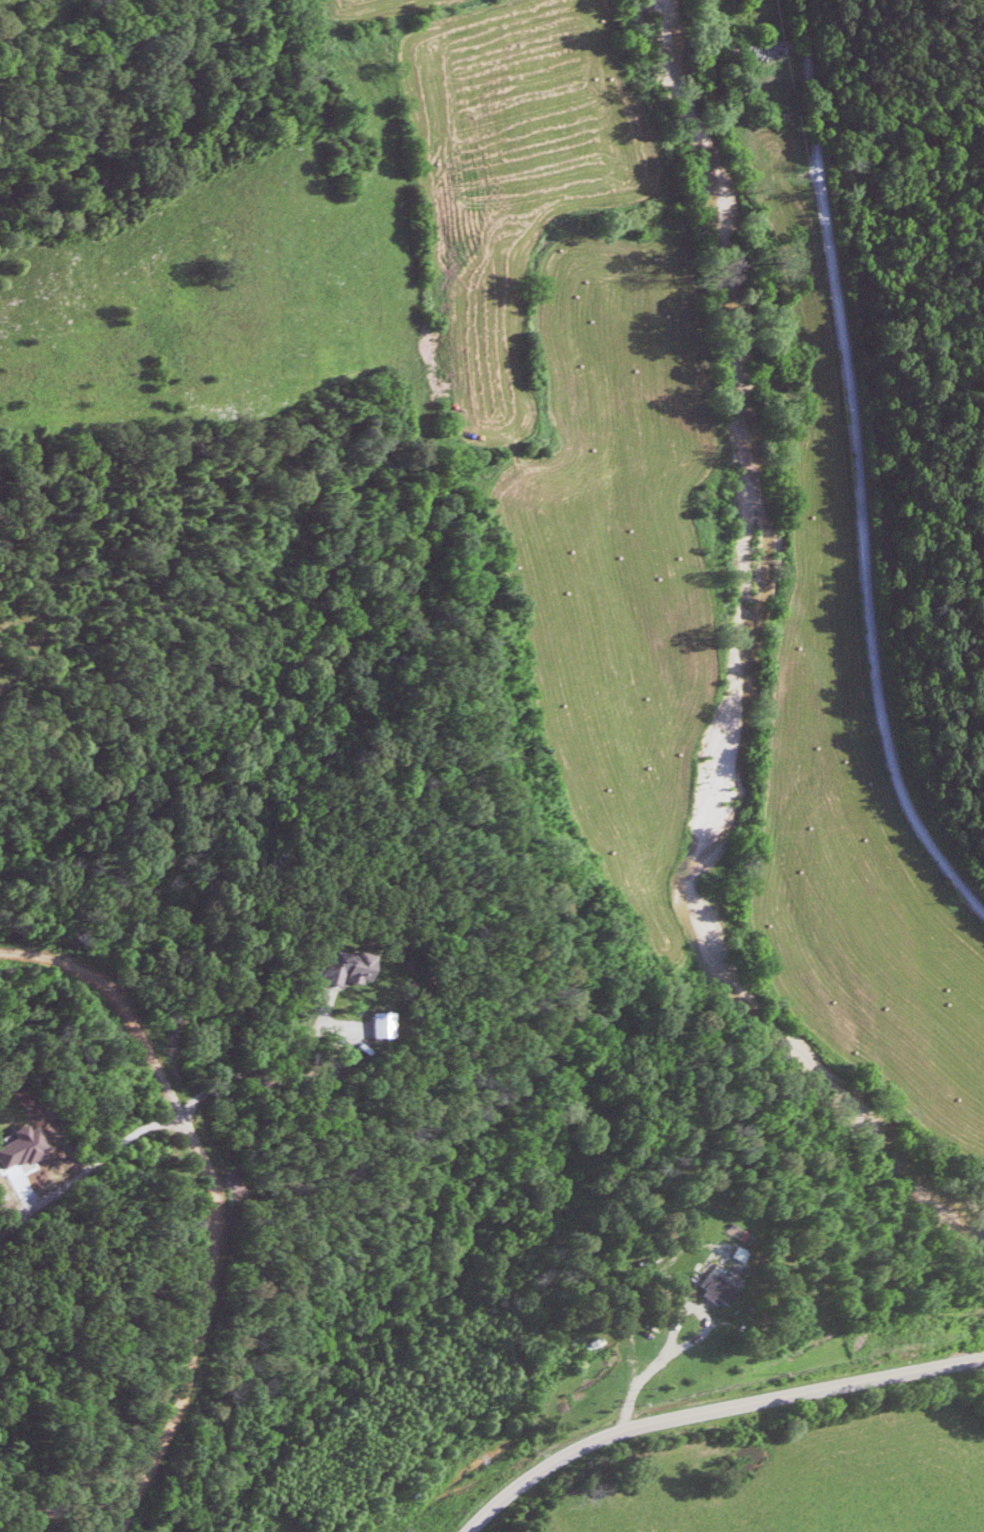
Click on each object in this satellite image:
road: (858, 469)
building: (341, 966)
building: (374, 1024)
building: (18, 1147)
road: (206, 1199)
building: (732, 1253)
building: (709, 1288)
road: (712, 1409)

